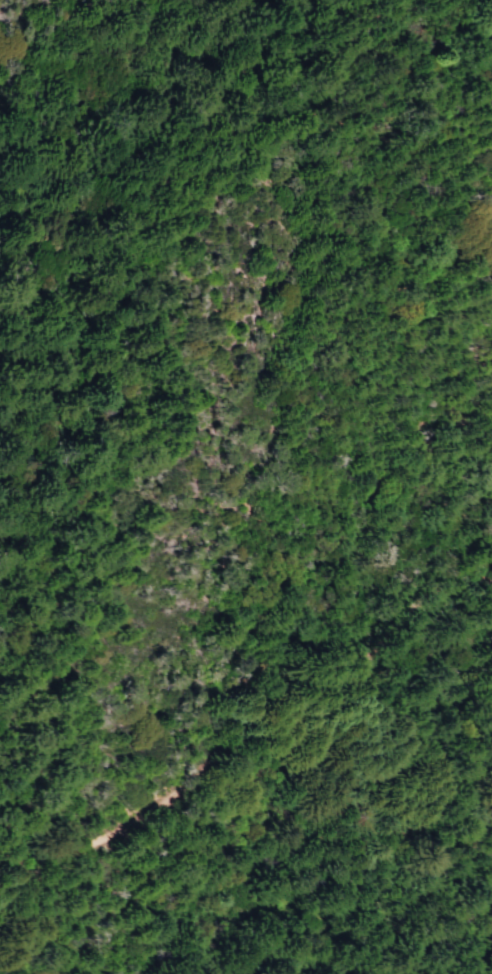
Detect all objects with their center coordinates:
road: (242, 721)
road: (404, 860)

